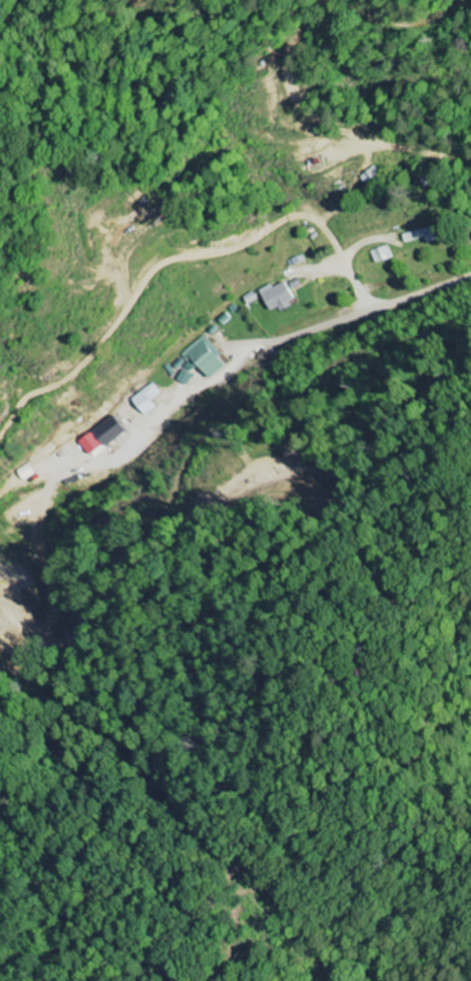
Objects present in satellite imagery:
building: (421, 235)
building: (380, 254)
building: (278, 296)
road: (390, 299)
building: (197, 361)
building: (146, 399)
building: (109, 431)
building: (90, 444)

